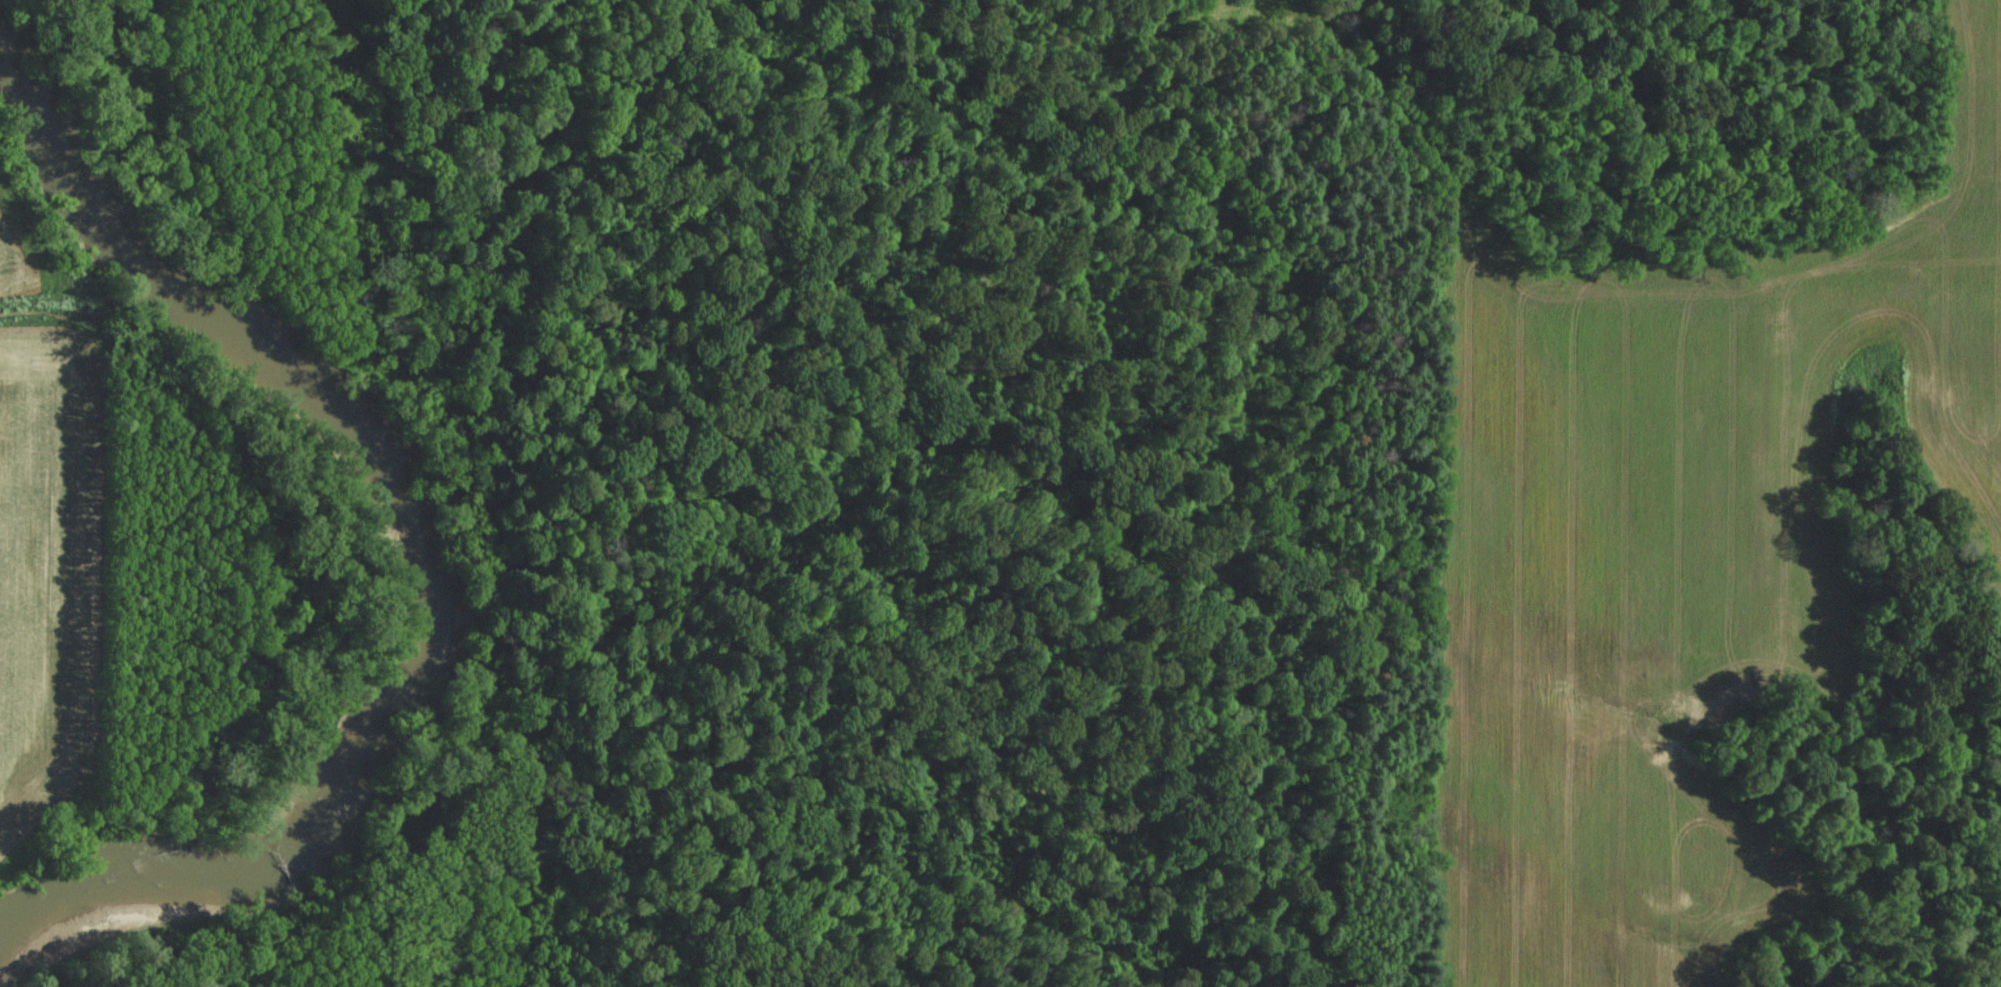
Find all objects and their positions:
river: (421, 542)

